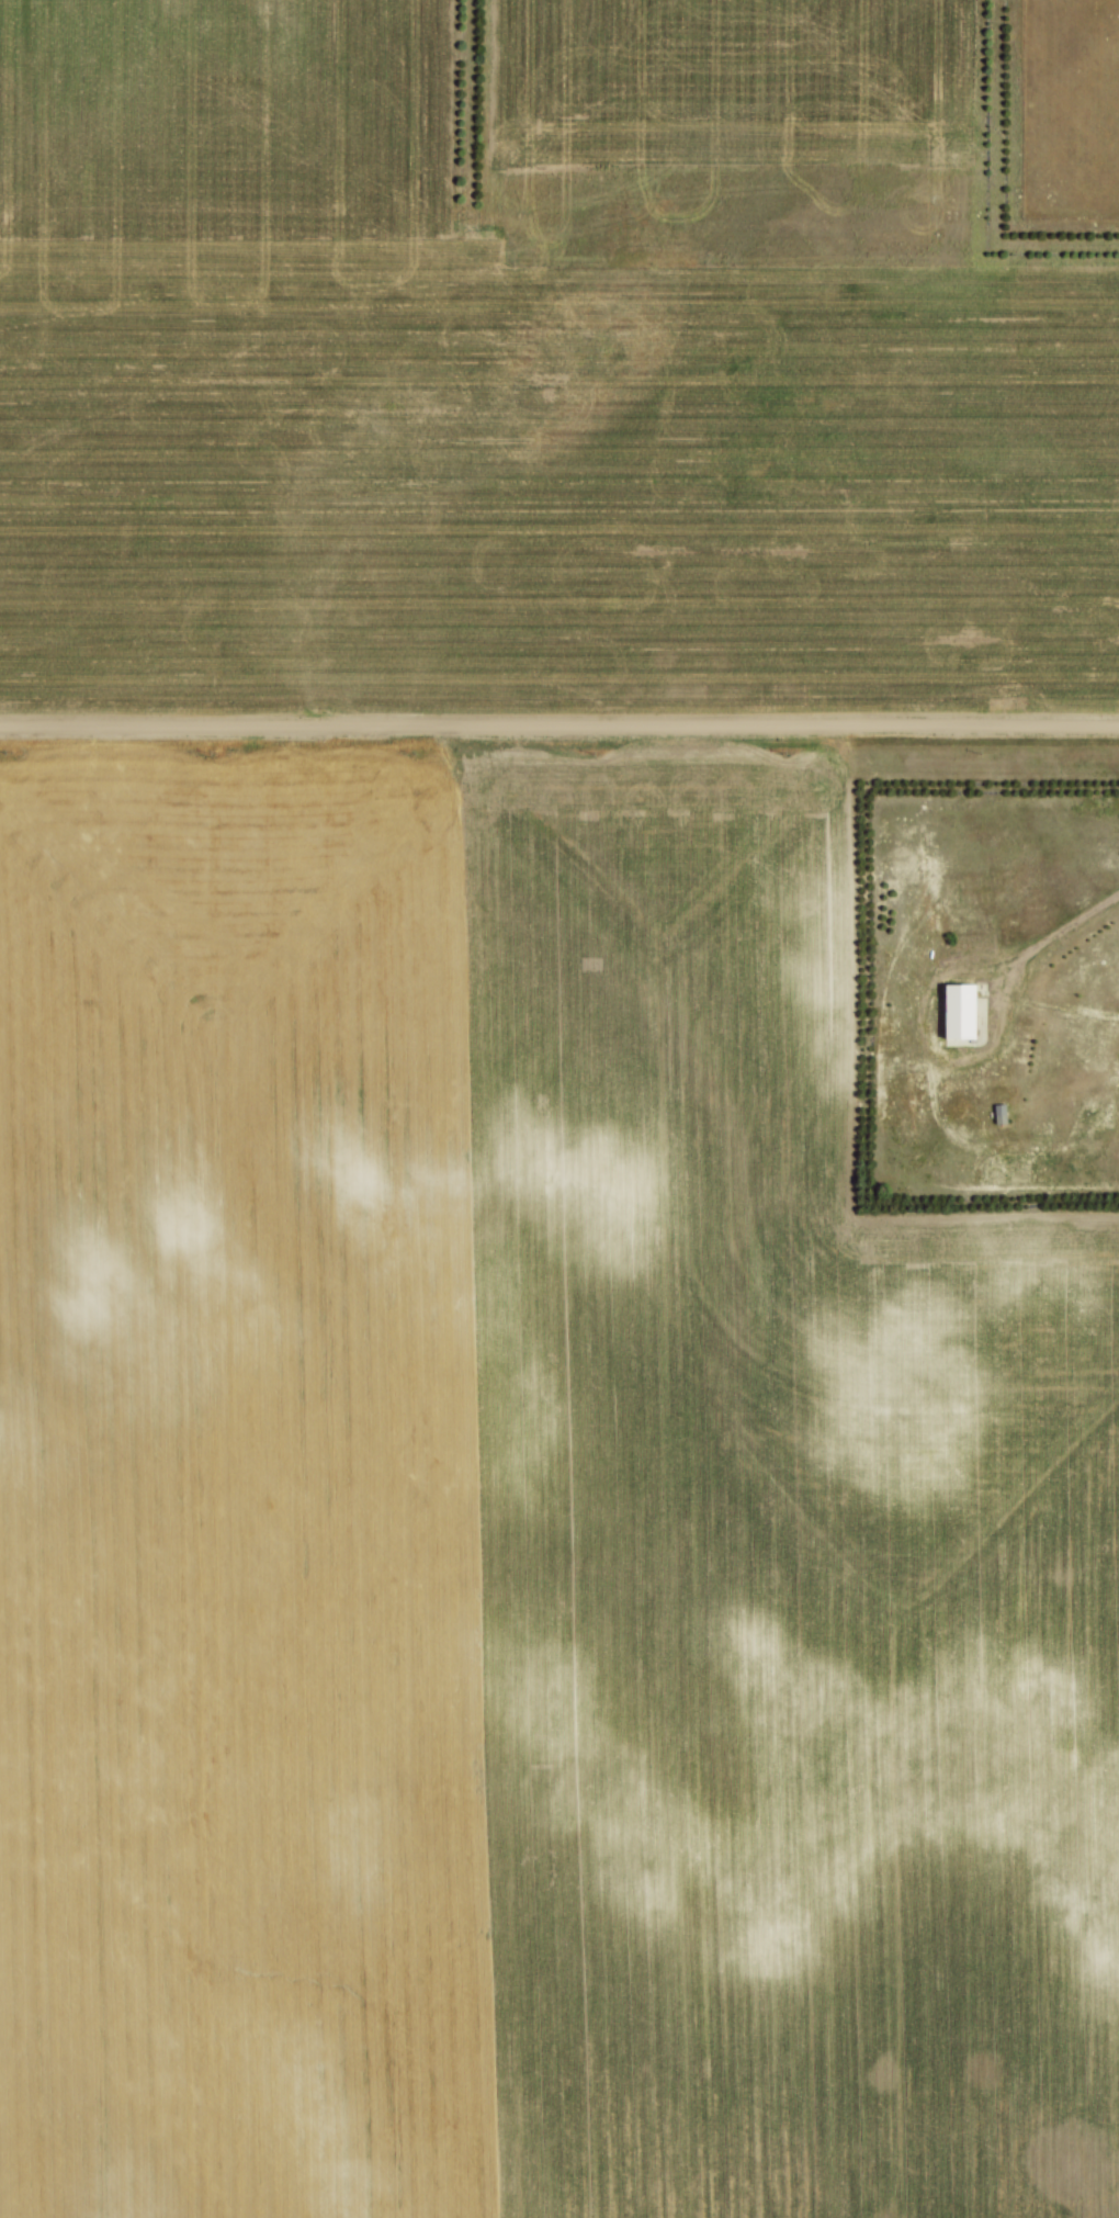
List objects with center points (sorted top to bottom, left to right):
crop: (532, 368)
road: (559, 730)
road: (1051, 936)
building: (957, 1015)
crop: (523, 1530)

